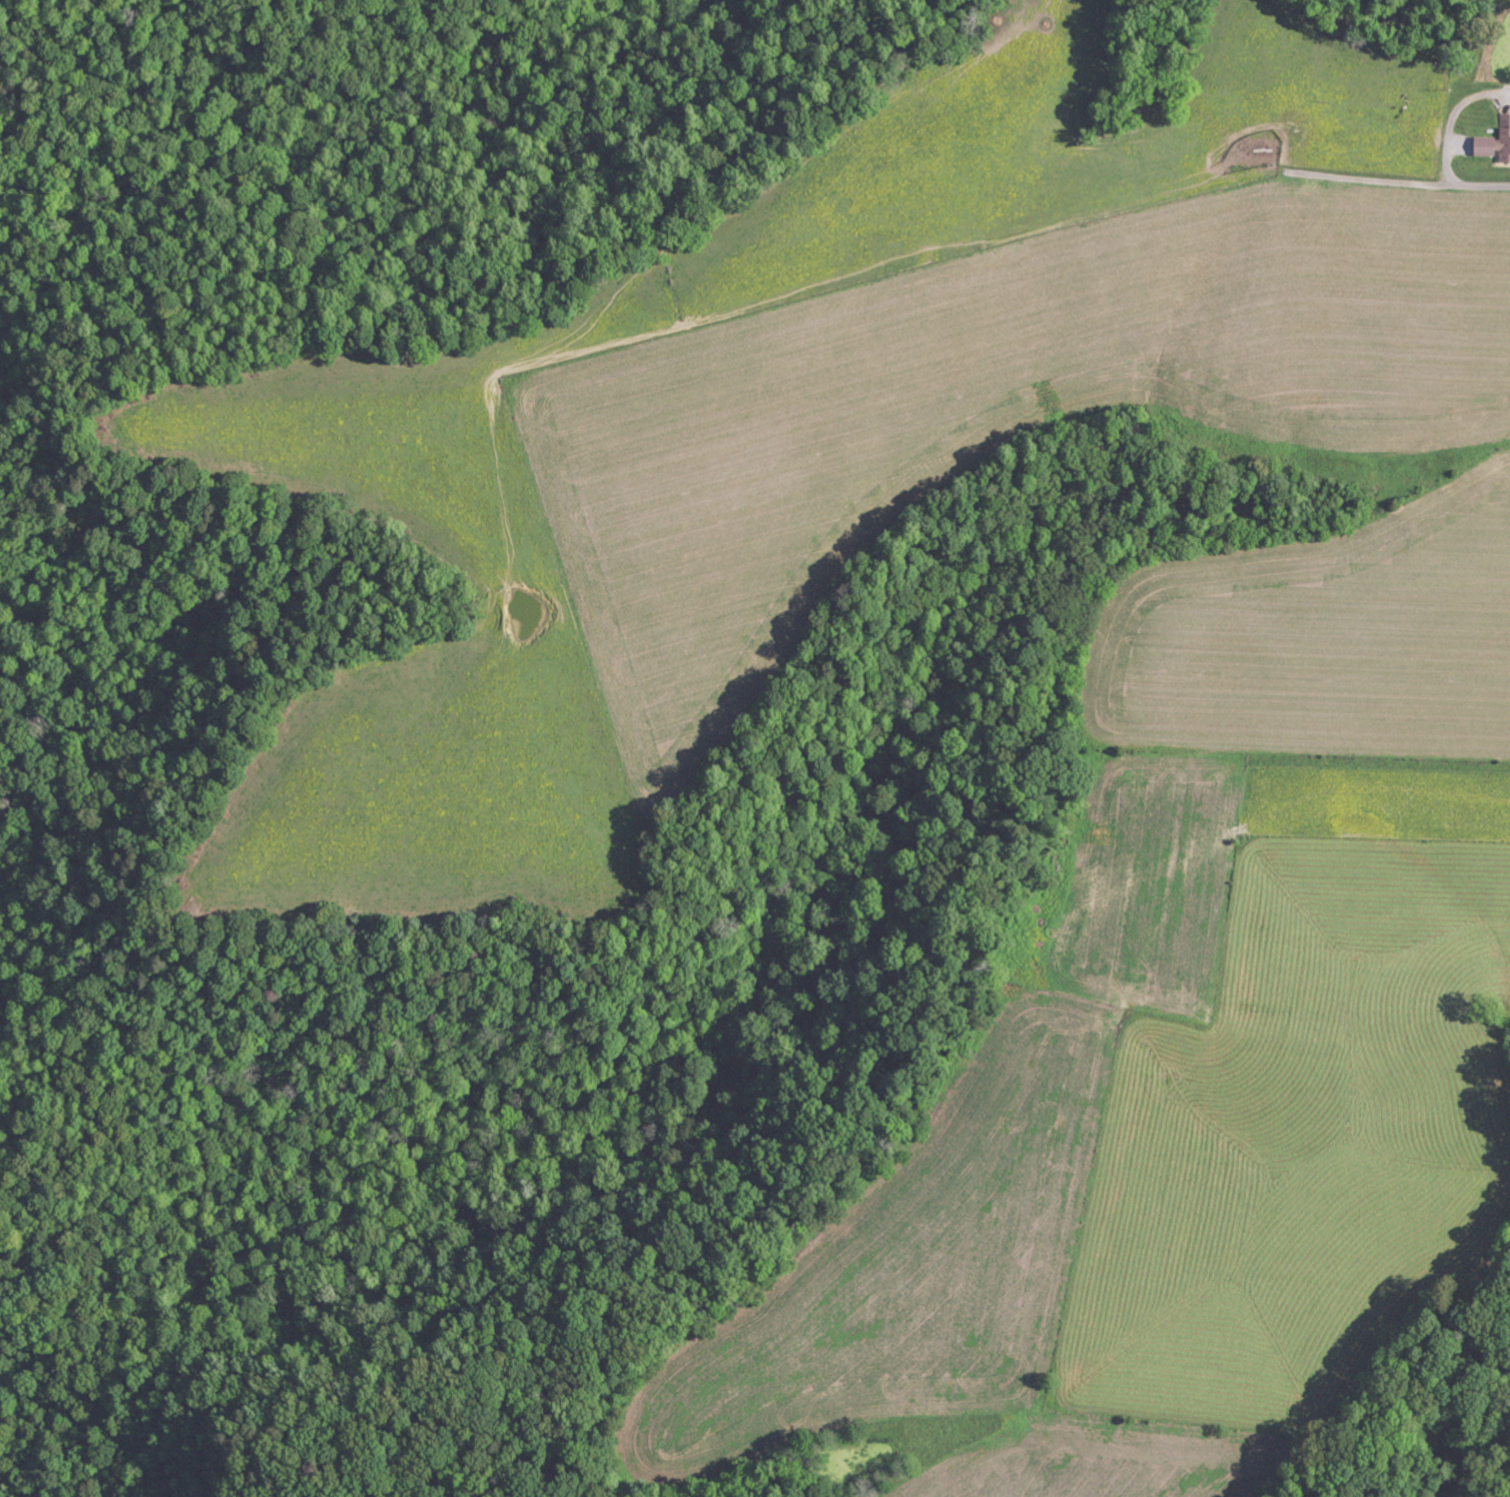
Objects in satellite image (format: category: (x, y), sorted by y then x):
building: (1494, 143)

